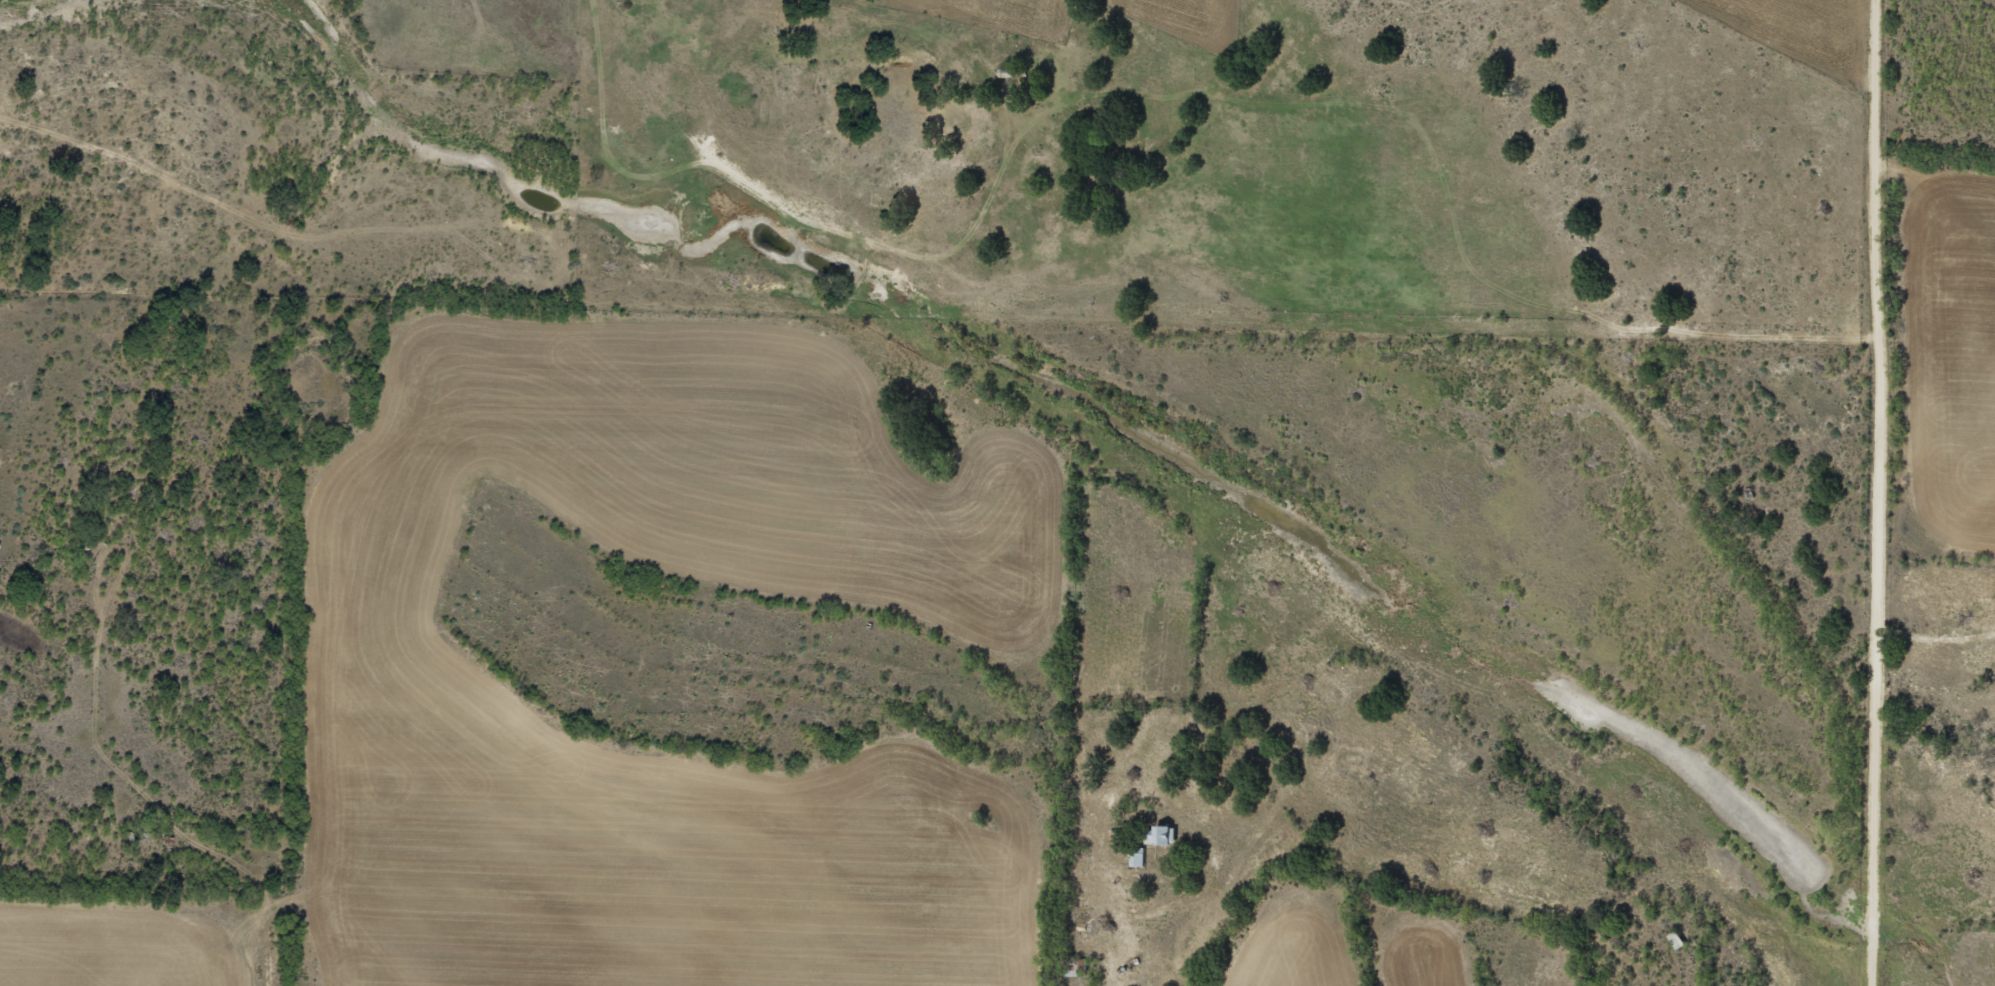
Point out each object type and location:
road: (1417, 336)
road: (135, 350)
road: (1875, 492)
building: (1160, 835)
road: (1389, 853)
building: (1137, 856)
building: (1677, 940)

